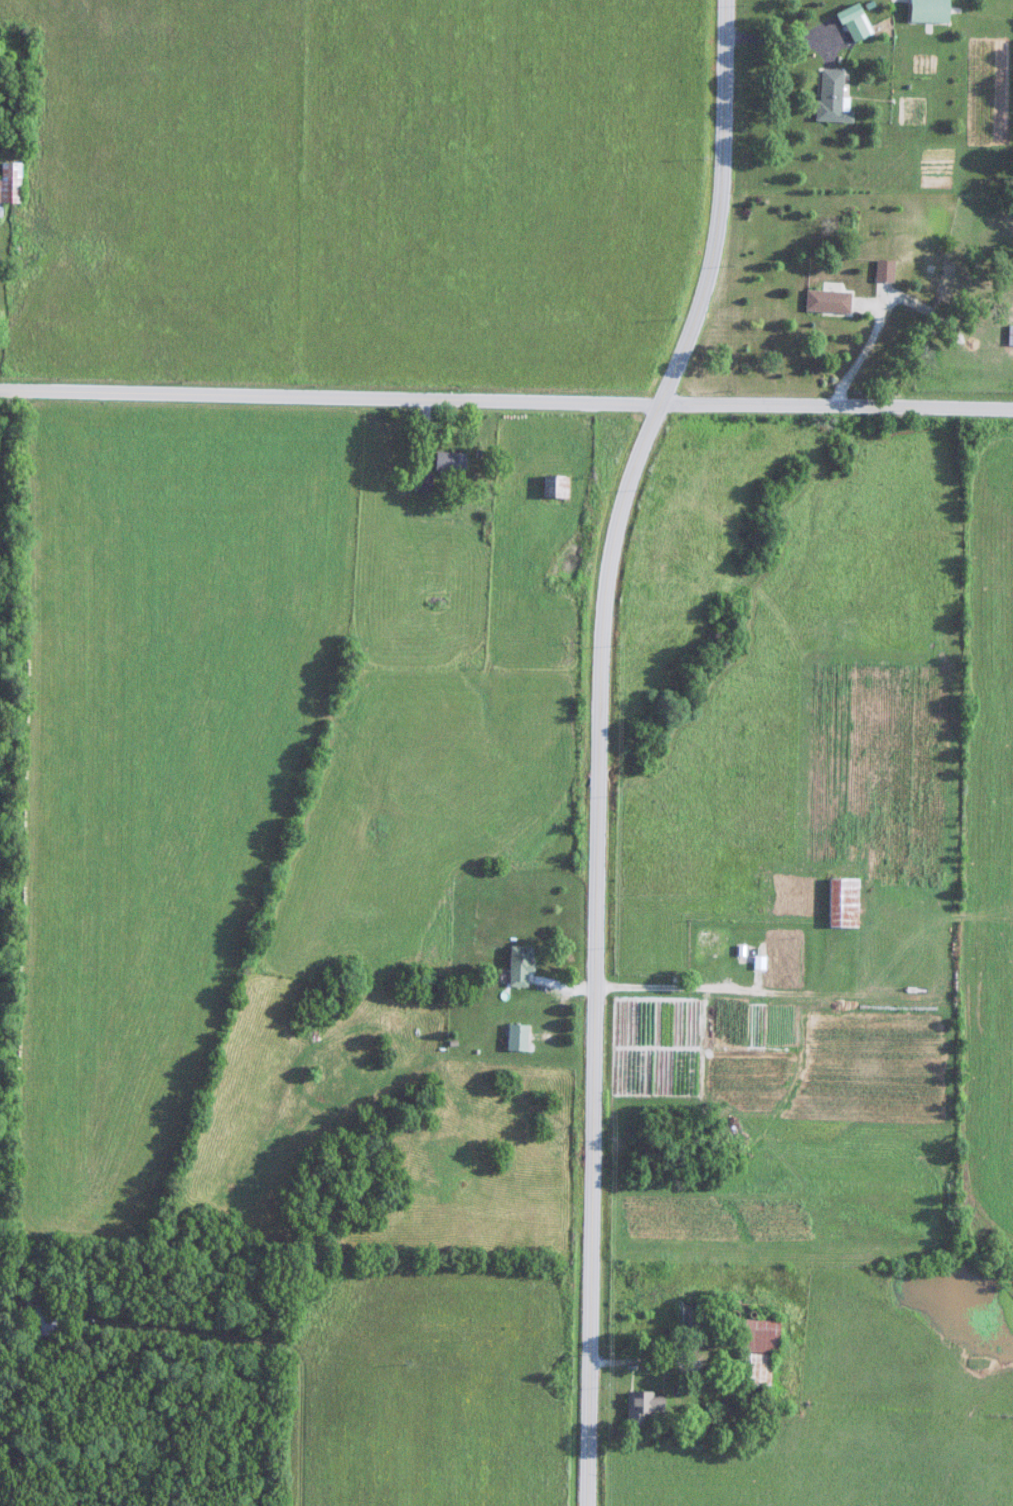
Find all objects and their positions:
building: (939, 10)
building: (866, 19)
road: (791, 40)
road: (830, 40)
building: (843, 94)
building: (11, 183)
crop: (360, 192)
building: (887, 272)
building: (837, 300)
building: (1011, 335)
road: (506, 396)
building: (453, 463)
crop: (3, 483)
building: (426, 483)
building: (566, 484)
road: (607, 743)
crop: (985, 842)
building: (854, 900)
building: (528, 965)
road: (574, 984)
road: (781, 989)
building: (527, 1035)
crop: (0, 1302)
building: (692, 1321)
building: (47, 1322)
building: (767, 1333)
road: (655, 1357)
building: (765, 1368)
building: (655, 1405)

